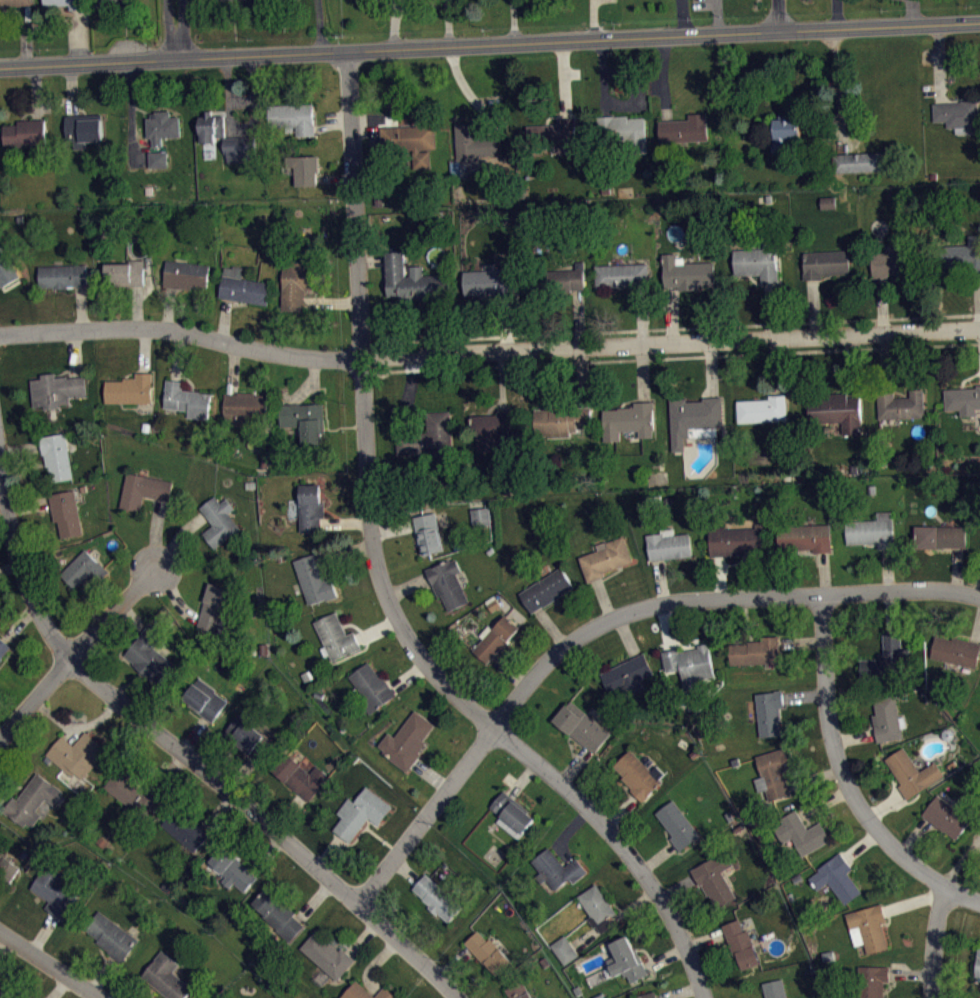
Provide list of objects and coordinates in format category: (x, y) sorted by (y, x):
building: (13, 2)
building: (110, 2)
building: (68, 3)
building: (233, 3)
road: (778, 15)
road: (176, 29)
road: (490, 45)
building: (958, 115)
building: (292, 117)
building: (162, 127)
building: (684, 129)
building: (83, 130)
building: (784, 131)
building: (623, 132)
building: (25, 133)
building: (552, 134)
building: (227, 139)
building: (473, 141)
building: (406, 146)
building: (158, 159)
building: (858, 162)
building: (304, 168)
building: (829, 208)
building: (962, 254)
building: (892, 261)
building: (757, 263)
building: (824, 263)
building: (6, 268)
building: (125, 273)
building: (688, 273)
building: (185, 274)
building: (62, 275)
building: (623, 275)
building: (413, 280)
building: (557, 281)
building: (490, 282)
building: (297, 283)
building: (243, 287)
road: (676, 327)
road: (488, 352)
road: (707, 356)
road: (403, 369)
building: (56, 389)
building: (130, 389)
building: (186, 399)
building: (962, 399)
building: (901, 405)
building: (764, 408)
building: (245, 409)
building: (836, 410)
building: (695, 418)
building: (563, 419)
building: (304, 420)
building: (629, 420)
building: (489, 430)
building: (430, 440)
building: (57, 456)
building: (143, 490)
building: (310, 507)
building: (66, 512)
building: (480, 516)
building: (219, 521)
building: (872, 530)
building: (427, 533)
building: (941, 536)
building: (805, 537)
building: (736, 539)
building: (669, 545)
building: (604, 557)
building: (83, 569)
building: (314, 579)
road: (381, 583)
building: (447, 583)
building: (546, 589)
building: (493, 604)
building: (213, 605)
road: (610, 630)
building: (335, 636)
building: (495, 637)
building: (3, 647)
building: (956, 650)
building: (756, 651)
building: (149, 654)
building: (890, 654)
road: (70, 655)
building: (690, 664)
building: (628, 674)
building: (0, 677)
building: (371, 686)
building: (205, 699)
building: (771, 711)
building: (888, 718)
building: (581, 726)
building: (249, 736)
building: (407, 740)
building: (76, 754)
road: (184, 757)
building: (775, 771)
building: (912, 772)
building: (639, 774)
road: (848, 774)
building: (300, 776)
building: (132, 796)
building: (32, 800)
building: (361, 812)
building: (511, 813)
building: (946, 816)
building: (678, 825)
building: (185, 828)
building: (802, 832)
building: (8, 867)
building: (556, 868)
building: (233, 869)
building: (714, 878)
building: (837, 878)
building: (55, 891)
building: (437, 898)
building: (598, 907)
building: (278, 914)
building: (868, 927)
building: (111, 935)
road: (933, 941)
building: (741, 943)
building: (564, 949)
building: (489, 952)
building: (327, 955)
building: (627, 960)
building: (978, 963)
road: (50, 965)
building: (167, 977)
building: (872, 980)
building: (775, 988)
building: (519, 991)
building: (8, 992)
building: (365, 992)
building: (647, 995)

